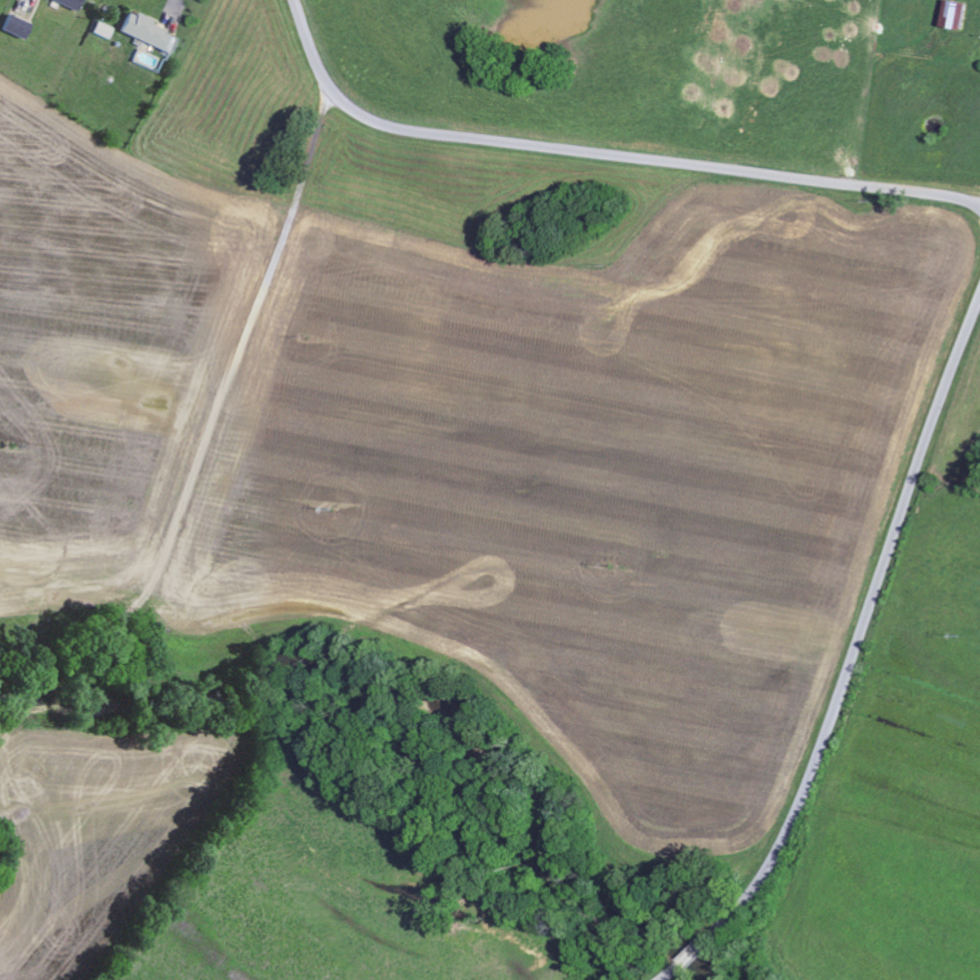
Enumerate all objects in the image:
building: (71, 3)
road: (170, 5)
building: (955, 13)
building: (17, 25)
building: (102, 29)
building: (148, 31)
road: (604, 154)
road: (211, 422)
road: (852, 655)
road: (7, 851)

